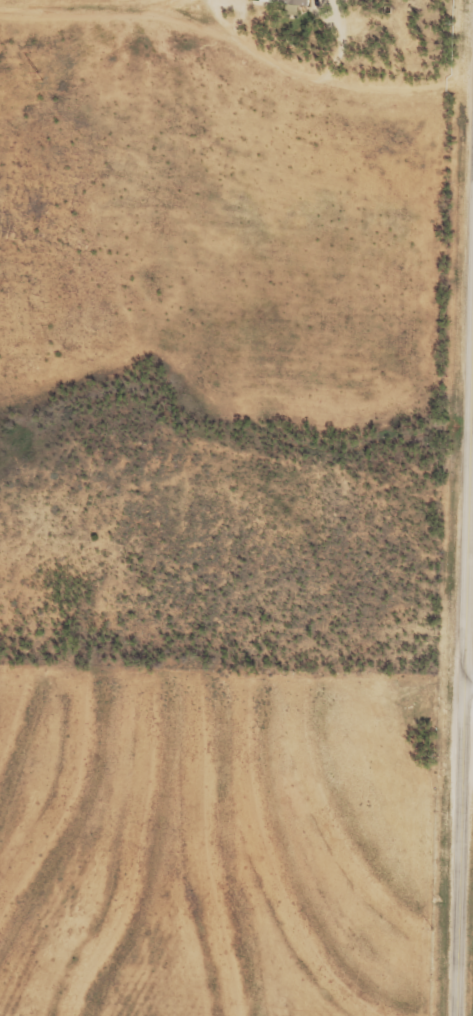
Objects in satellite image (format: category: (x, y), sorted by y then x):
road: (462, 8)
power tower: (40, 77)
road: (469, 687)
road: (465, 723)

